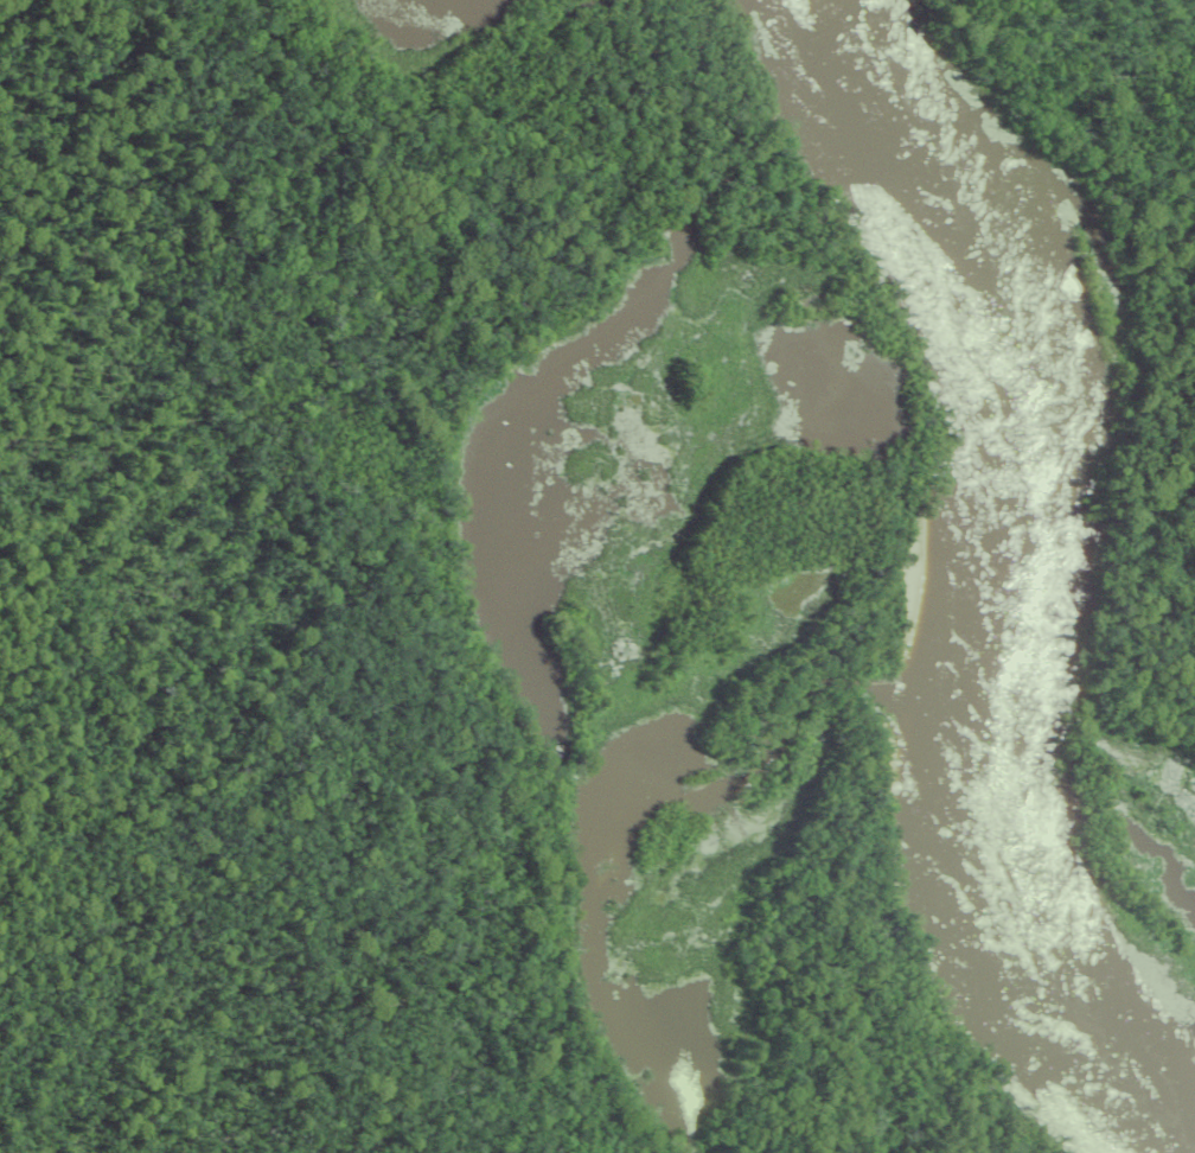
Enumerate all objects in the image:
river: (1001, 575)

